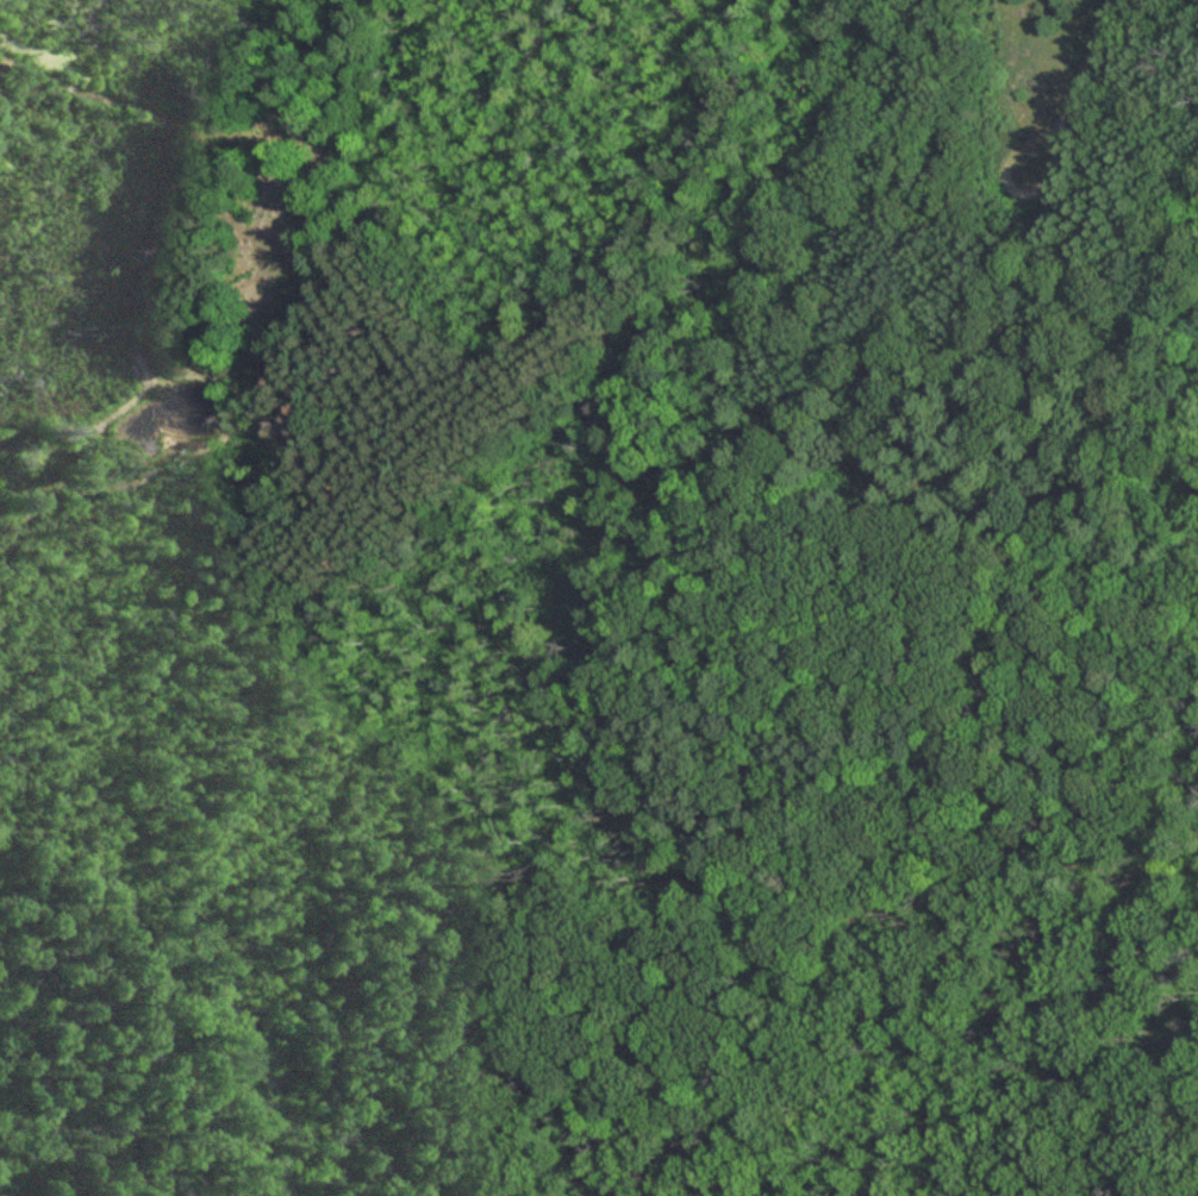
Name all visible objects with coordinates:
road: (1085, 63)
road: (1010, 192)

